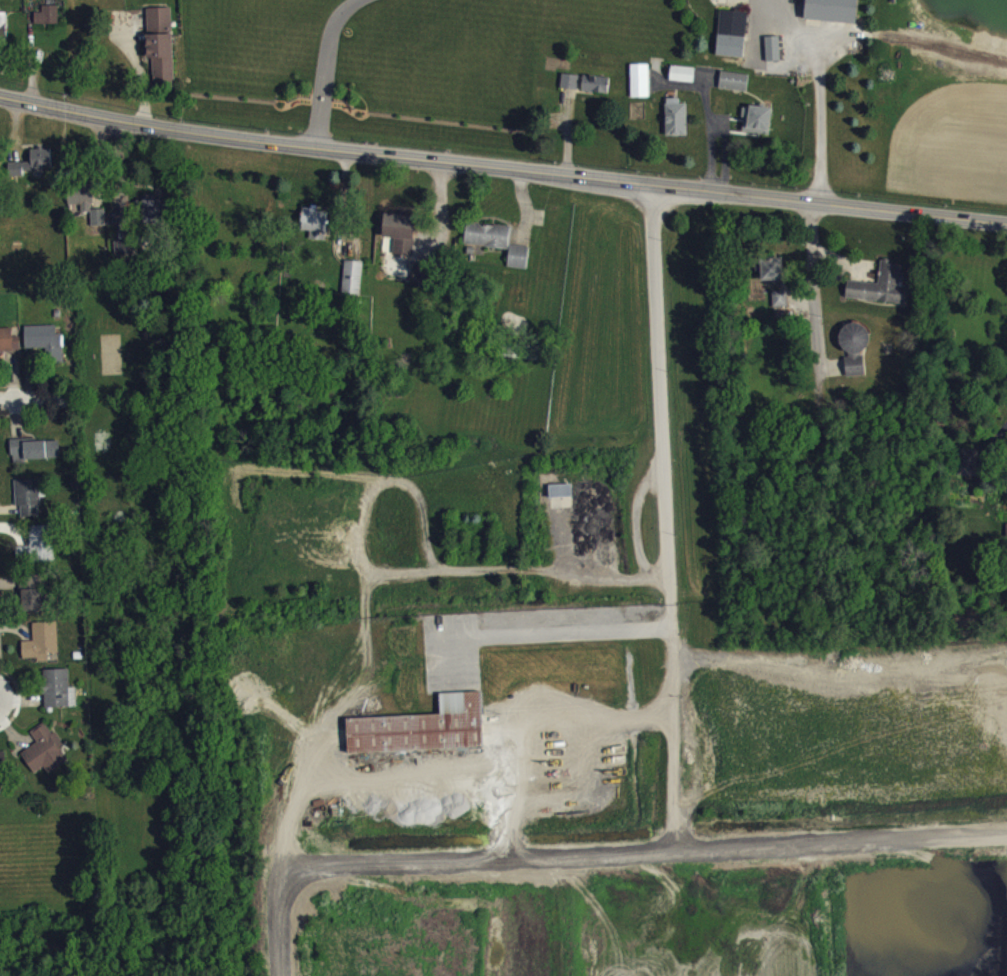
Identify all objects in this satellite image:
building: (833, 13)
building: (48, 21)
building: (4, 30)
building: (732, 40)
building: (774, 55)
building: (162, 62)
road: (325, 68)
building: (683, 80)
building: (640, 86)
building: (570, 87)
building: (735, 87)
building: (597, 90)
road: (819, 91)
building: (677, 124)
building: (758, 126)
crop: (953, 142)
road: (502, 167)
building: (33, 168)
building: (81, 201)
building: (154, 214)
building: (99, 223)
building: (316, 229)
building: (402, 238)
building: (498, 248)
building: (125, 254)
building: (773, 275)
building: (424, 279)
building: (353, 284)
building: (882, 292)
building: (780, 305)
road: (816, 310)
building: (9, 346)
building: (46, 347)
building: (855, 354)
road: (30, 401)
road: (1006, 423)
building: (35, 456)
building: (970, 468)
building: (561, 502)
building: (29, 503)
road: (666, 516)
road: (637, 523)
building: (42, 549)
road: (610, 585)
building: (34, 600)
road: (542, 631)
building: (43, 648)
parking lot: (450, 649)
building: (59, 695)
road: (531, 715)
building: (420, 724)
building: (46, 756)
building: (3, 770)
road: (315, 790)
road: (642, 851)

